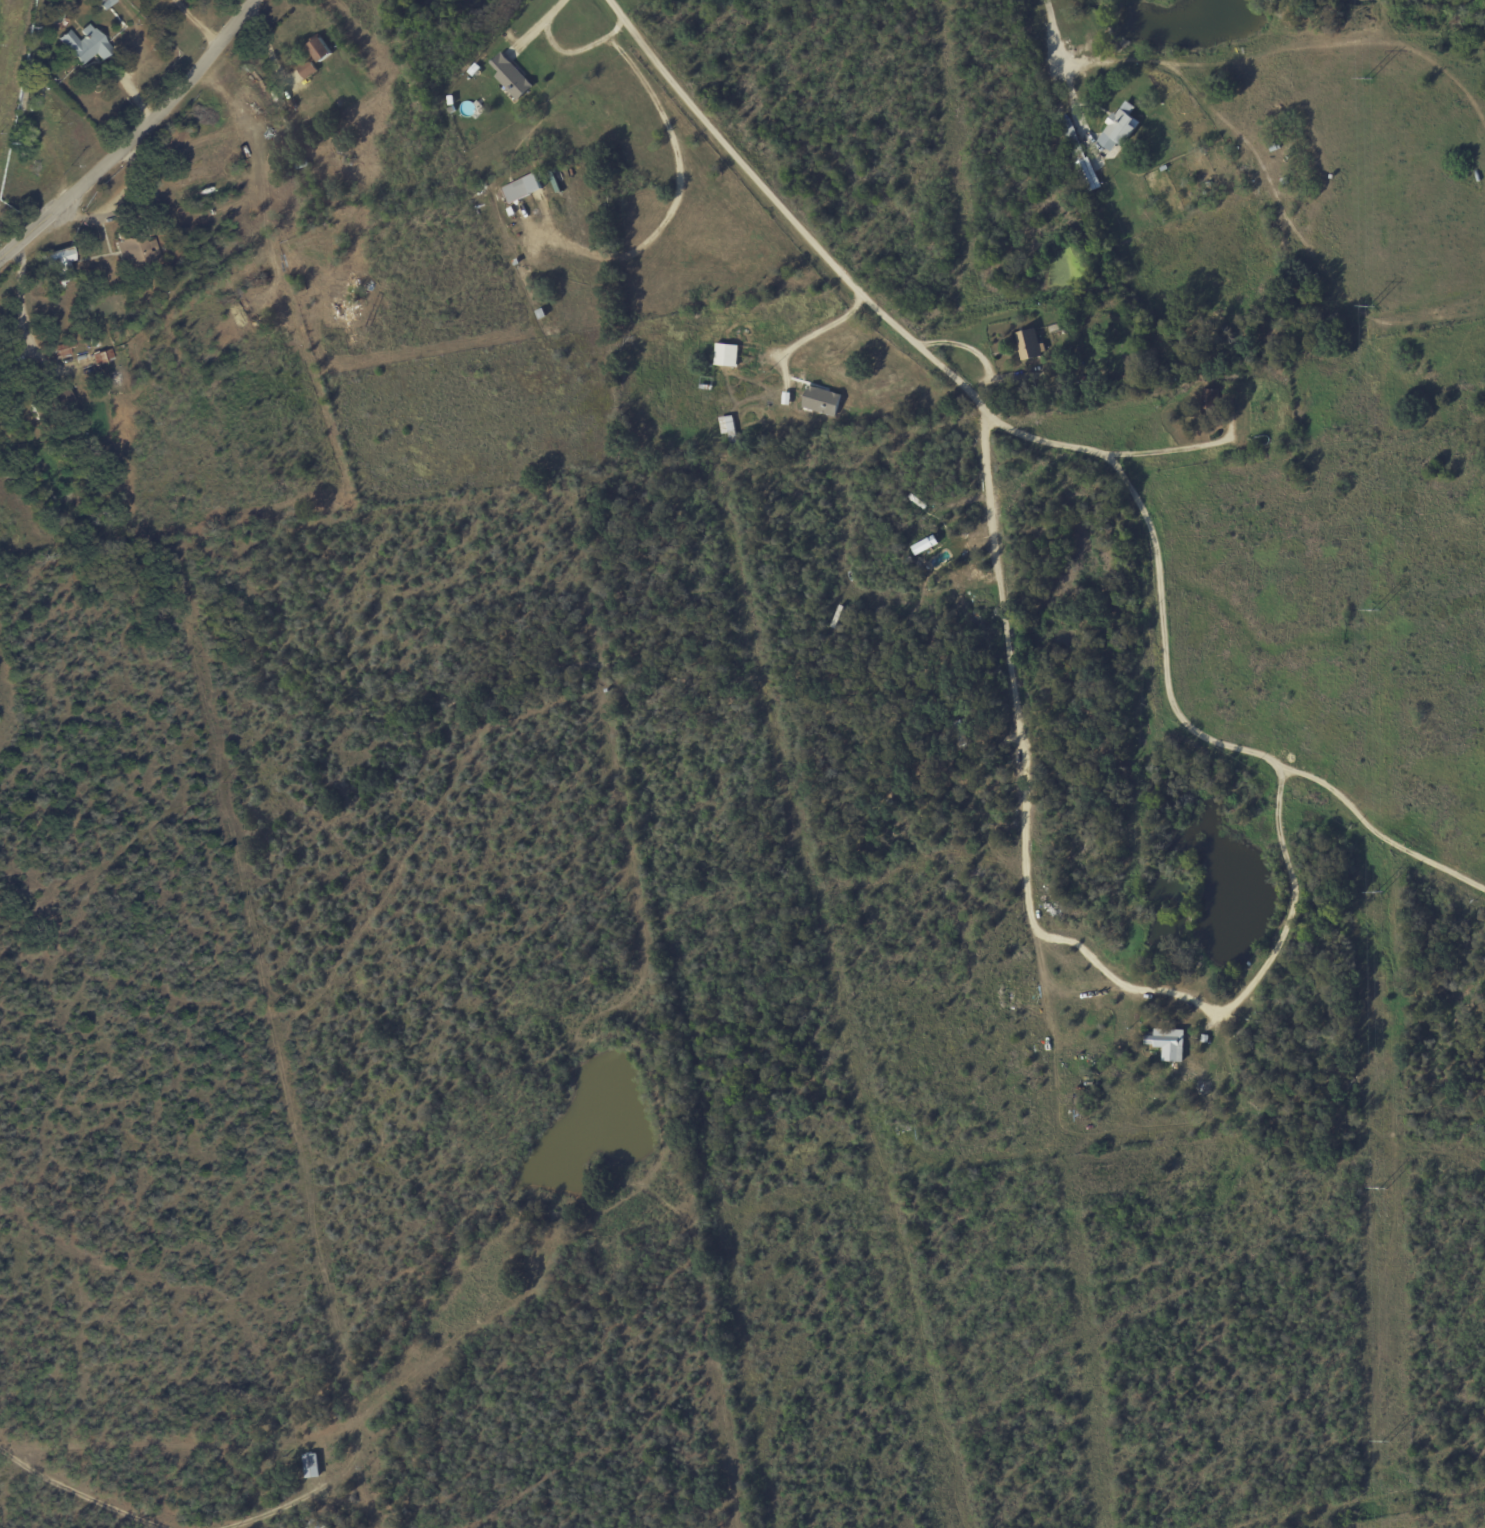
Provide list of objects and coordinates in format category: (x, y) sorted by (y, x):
building: (104, 3)
road: (536, 22)
building: (84, 45)
road: (1060, 55)
building: (315, 58)
building: (511, 77)
power tower: (1366, 78)
building: (1119, 127)
road: (136, 137)
building: (1087, 176)
building: (521, 188)
building: (277, 192)
road: (774, 204)
building: (137, 251)
road: (1, 257)
building: (60, 263)
building: (347, 298)
power tower: (1369, 307)
road: (15, 326)
road: (813, 334)
building: (1030, 346)
building: (63, 348)
building: (725, 355)
building: (102, 356)
building: (61, 399)
building: (1209, 400)
building: (822, 401)
building: (726, 425)
road: (1029, 439)
road: (1172, 453)
power tower: (1373, 610)
road: (1239, 753)
road: (1013, 782)
power tower: (1377, 892)
building: (1168, 1045)
power tower: (1380, 1189)
power tower: (1383, 1442)
building: (310, 1466)
road: (79, 1493)
road: (271, 1510)

